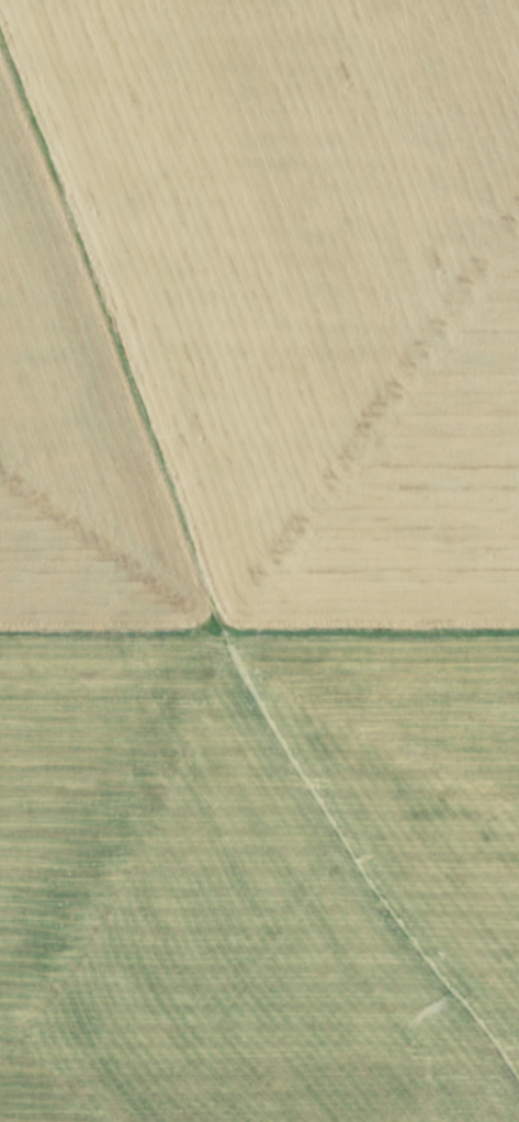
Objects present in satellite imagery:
crop: (259, 561)

